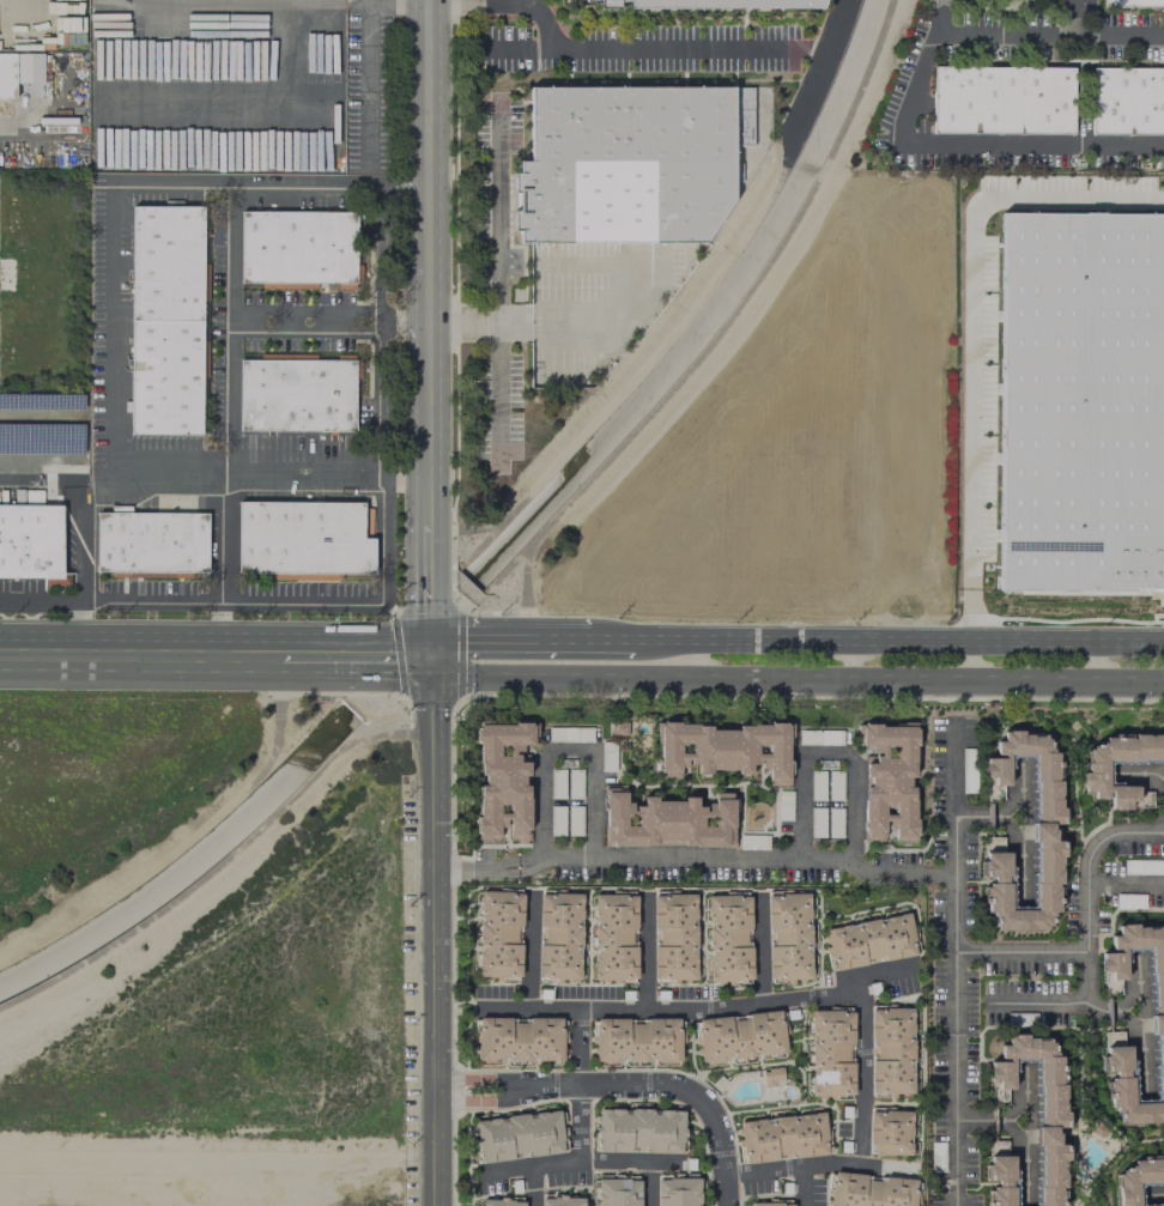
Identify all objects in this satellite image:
road: (175, 0)
road: (398, 0)
road: (527, 1)
building: (709, 2)
building: (1130, 4)
road: (1006, 32)
road: (1103, 32)
road: (810, 48)
road: (595, 49)
road: (522, 50)
building: (19, 69)
road: (817, 73)
road: (365, 81)
building: (1000, 98)
building: (1127, 99)
road: (16, 122)
road: (958, 143)
building: (624, 164)
road: (498, 219)
building: (296, 246)
road: (377, 279)
road: (564, 317)
building: (164, 319)
road: (225, 319)
road: (722, 321)
road: (429, 327)
road: (970, 329)
road: (498, 344)
building: (296, 394)
building: (1080, 401)
road: (113, 428)
road: (16, 479)
road: (384, 532)
building: (302, 538)
building: (151, 541)
building: (31, 543)
road: (84, 554)
road: (42, 599)
road: (457, 599)
road: (499, 637)
road: (605, 638)
road: (899, 642)
road: (139, 654)
road: (353, 654)
traffic signals: (429, 655)
road: (793, 679)
road: (404, 698)
road: (410, 719)
building: (569, 734)
building: (820, 737)
building: (725, 750)
road: (569, 751)
road: (826, 753)
building: (607, 756)
building: (1096, 772)
road: (1139, 775)
building: (502, 780)
building: (887, 781)
building: (557, 783)
building: (574, 783)
building: (817, 786)
building: (835, 786)
road: (1023, 792)
building: (1145, 799)
building: (783, 805)
road: (990, 818)
building: (1045, 818)
building: (556, 820)
building: (574, 820)
building: (666, 820)
building: (817, 822)
building: (752, 842)
road: (163, 843)
road: (740, 859)
road: (1023, 860)
road: (207, 867)
road: (477, 869)
road: (1086, 889)
road: (434, 929)
building: (499, 934)
building: (558, 937)
building: (613, 937)
building: (674, 937)
building: (788, 937)
building: (728, 939)
building: (869, 939)
road: (763, 951)
road: (1023, 951)
road: (534, 952)
road: (648, 953)
road: (958, 971)
road: (1036, 1004)
road: (701, 1010)
building: (1158, 1012)
building: (739, 1036)
building: (517, 1038)
building: (636, 1040)
building: (891, 1050)
building: (831, 1053)
road: (866, 1077)
road: (583, 1085)
road: (626, 1085)
building: (1038, 1107)
building: (638, 1131)
building: (890, 1132)
building: (519, 1135)
road: (582, 1160)
road: (823, 1164)
building: (999, 1174)
building: (1136, 1180)
road: (651, 1183)
road: (535, 1187)
road: (805, 1187)
building: (869, 1190)
building: (616, 1192)
building: (678, 1192)
road: (1156, 1193)
building: (560, 1200)
building: (499, 1202)
building: (769, 1204)
road: (920, 1205)

